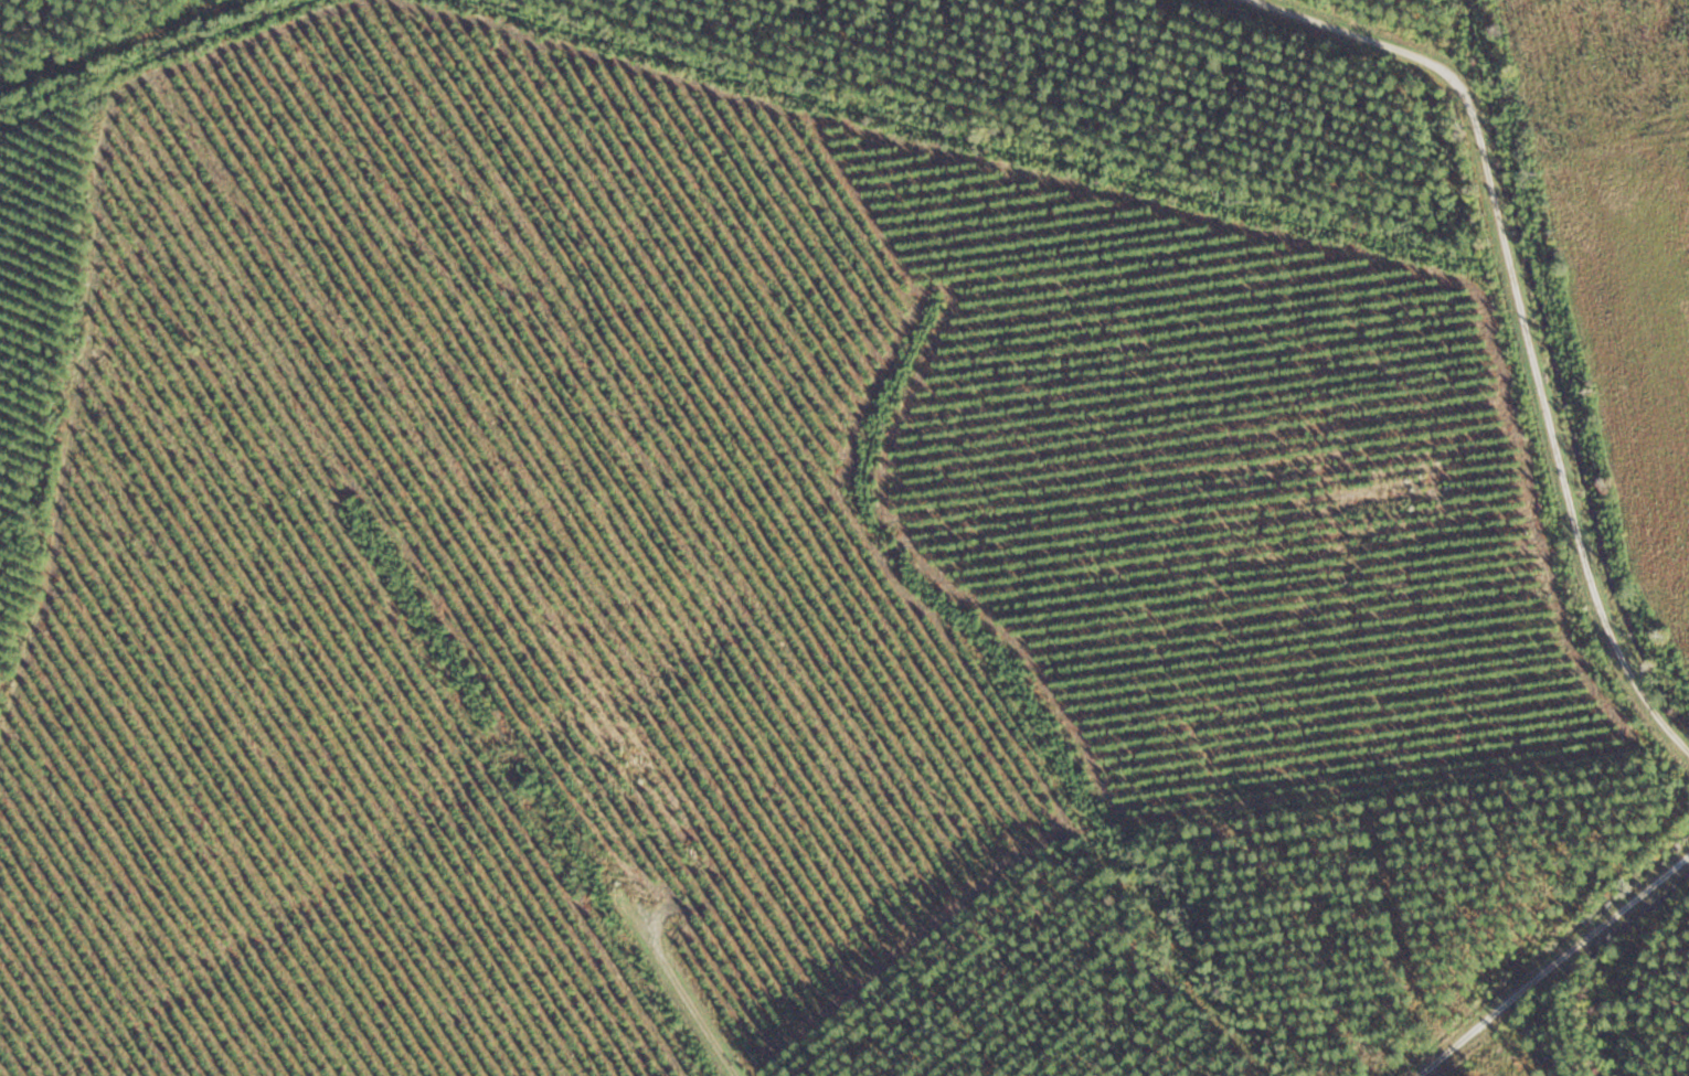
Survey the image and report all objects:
road: (1525, 318)
road: (1555, 965)

